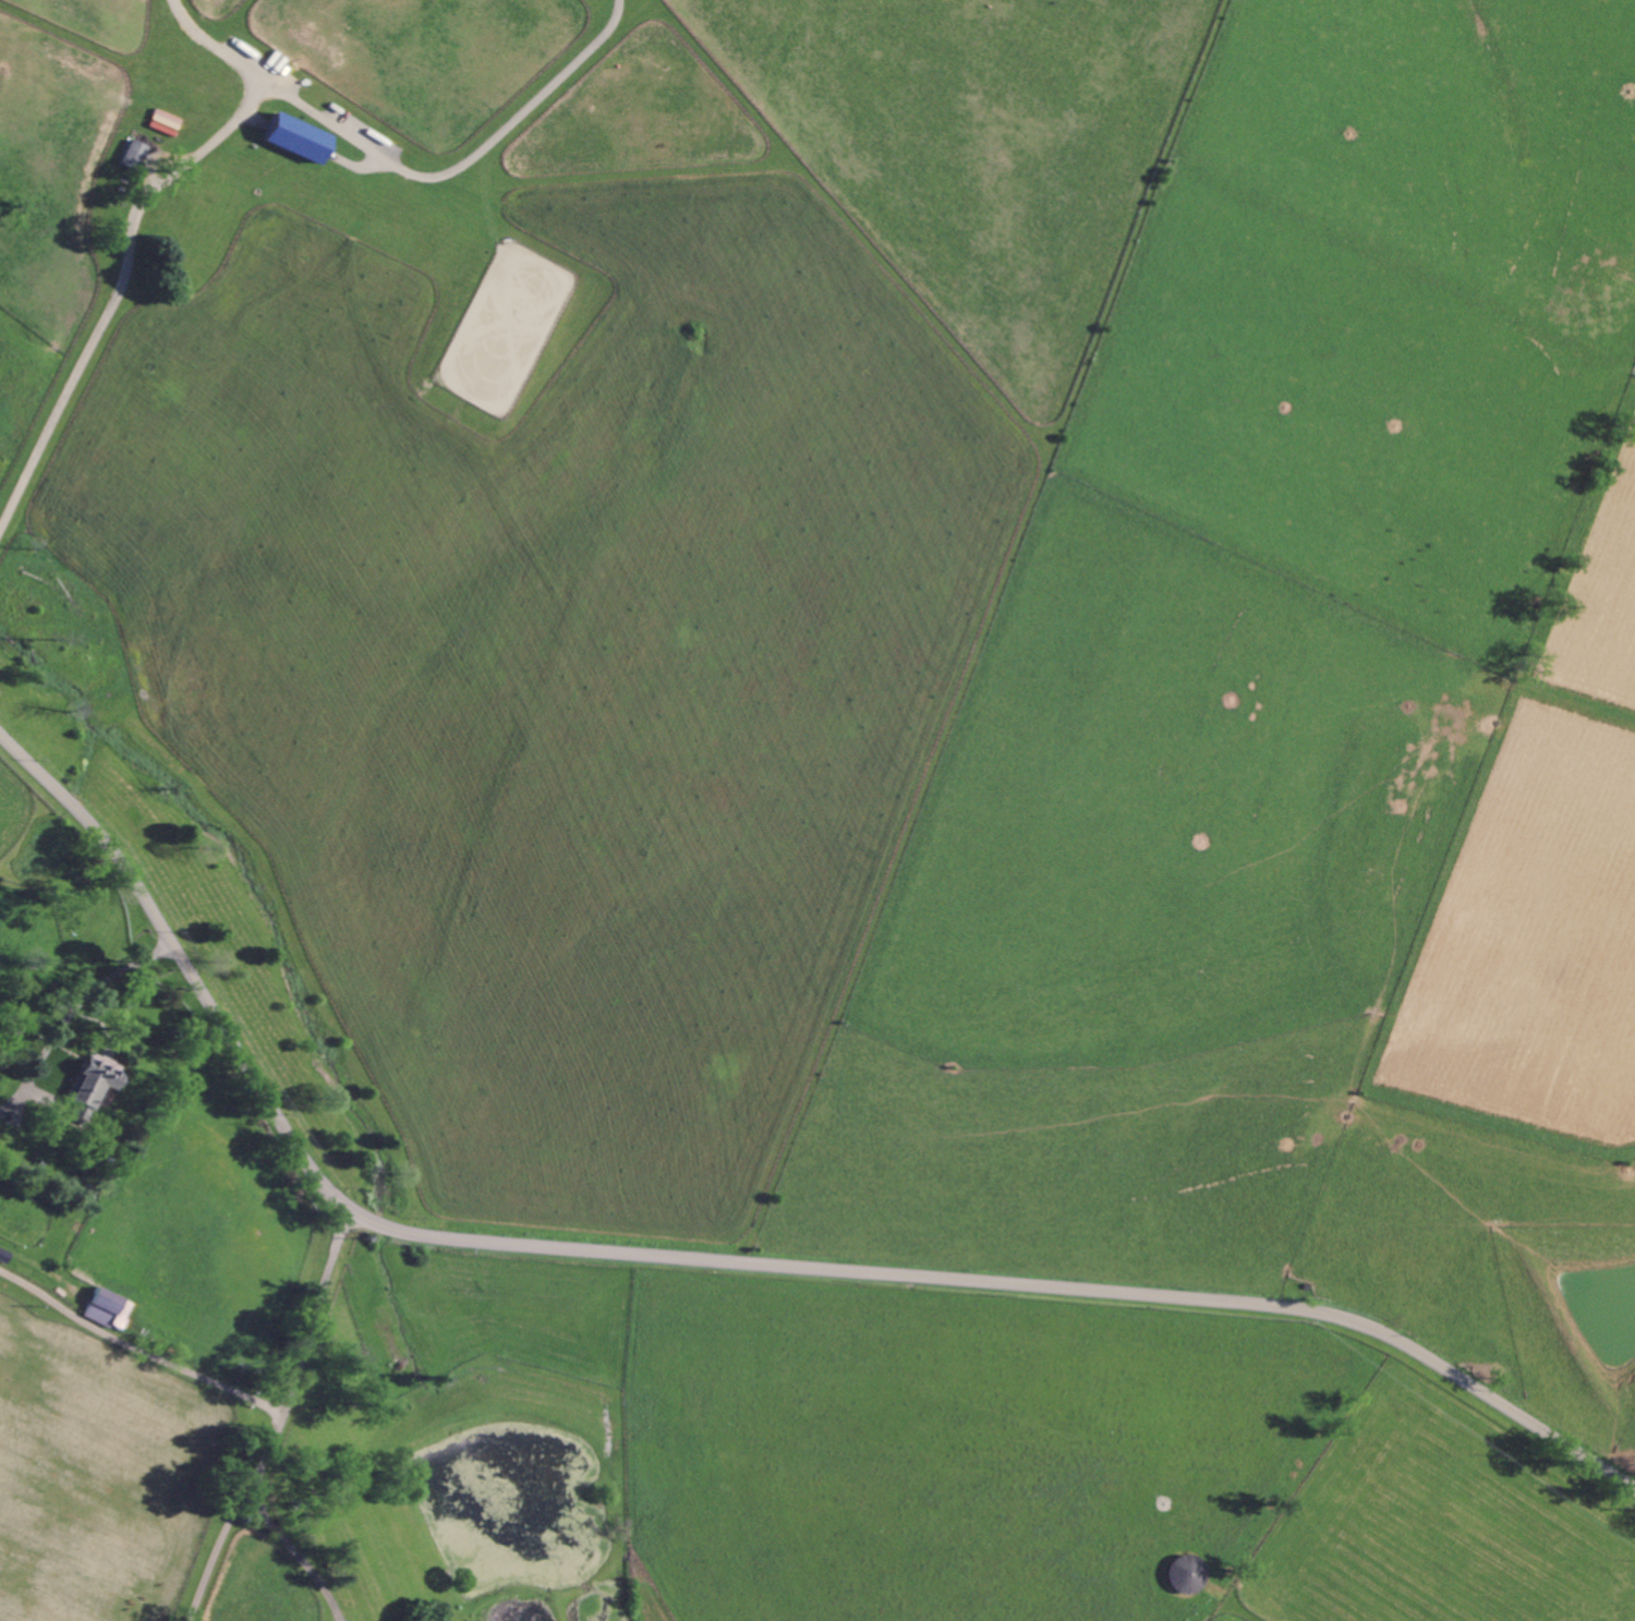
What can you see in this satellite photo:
building: (301, 138)
building: (136, 154)
road: (465, 167)
road: (131, 235)
road: (74, 1009)
building: (96, 1078)
road: (717, 1258)
road: (34, 1266)
building: (109, 1307)
road: (141, 1350)
road: (288, 1419)
road: (300, 1560)

